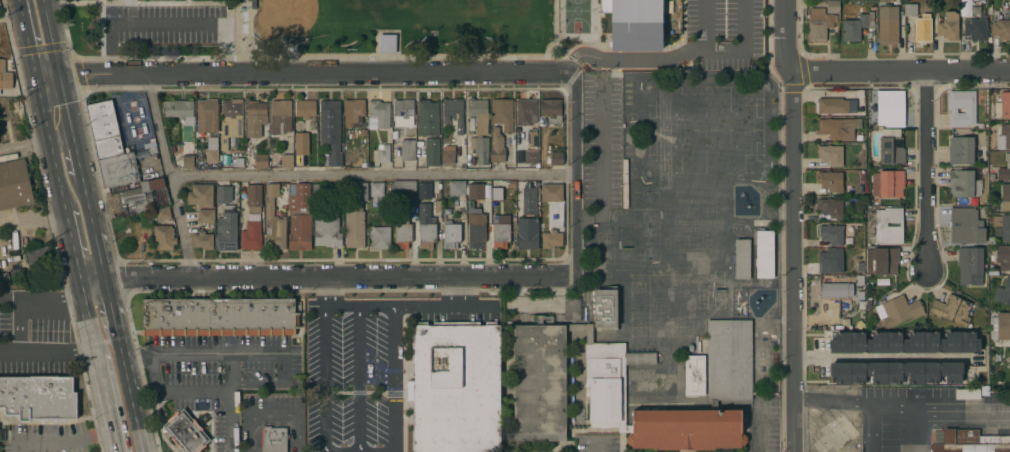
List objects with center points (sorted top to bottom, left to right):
building: (890, 1)
building: (832, 7)
building: (1008, 9)
building: (910, 10)
building: (989, 11)
building: (996, 13)
building: (635, 23)
road: (167, 24)
building: (819, 24)
building: (888, 25)
road: (705, 26)
building: (857, 26)
building: (948, 26)
parking lot: (167, 27)
road: (743, 27)
building: (922, 28)
building: (974, 29)
building: (1001, 29)
park: (433, 33)
road: (27, 37)
building: (292, 41)
building: (387, 43)
road: (670, 61)
road: (305, 74)
road: (902, 75)
building: (5, 76)
building: (832, 106)
building: (1002, 106)
building: (16, 108)
building: (890, 108)
building: (961, 108)
building: (305, 109)
building: (402, 110)
building: (551, 110)
building: (180, 111)
building: (353, 111)
building: (526, 112)
building: (453, 113)
building: (502, 113)
building: (378, 114)
building: (207, 115)
building: (479, 115)
building: (280, 116)
road: (67, 117)
building: (255, 118)
building: (427, 118)
building: (230, 124)
building: (313, 124)
building: (103, 129)
building: (331, 129)
building: (836, 129)
building: (517, 132)
building: (1005, 134)
building: (512, 139)
building: (532, 139)
road: (49, 143)
building: (273, 143)
building: (301, 143)
building: (149, 145)
building: (890, 148)
building: (211, 149)
building: (448, 149)
building: (501, 149)
building: (127, 150)
building: (345, 150)
building: (408, 150)
building: (480, 150)
building: (962, 150)
building: (153, 152)
building: (432, 152)
building: (383, 153)
building: (187, 154)
building: (830, 155)
building: (531, 156)
building: (345, 158)
building: (555, 158)
road: (599, 159)
building: (261, 161)
building: (287, 161)
building: (232, 162)
building: (856, 163)
building: (363, 164)
road: (68, 167)
building: (1004, 169)
building: (118, 170)
road: (925, 173)
road: (168, 174)
road: (372, 175)
road: (576, 175)
building: (859, 179)
building: (830, 181)
building: (963, 183)
building: (511, 184)
building: (888, 184)
building: (14, 185)
building: (404, 185)
building: (424, 186)
building: (466, 189)
building: (859, 190)
building: (496, 193)
building: (552, 193)
building: (223, 194)
building: (378, 194)
building: (302, 195)
building: (200, 196)
building: (136, 197)
building: (1005, 197)
building: (436, 201)
building: (509, 201)
building: (529, 202)
building: (412, 205)
building: (831, 208)
building: (162, 214)
building: (206, 216)
building: (252, 219)
building: (356, 219)
building: (274, 221)
road: (33, 225)
road: (794, 225)
building: (1001, 225)
building: (426, 226)
building: (888, 226)
building: (966, 226)
building: (475, 227)
building: (226, 230)
building: (300, 230)
building: (500, 232)
building: (326, 233)
building: (401, 233)
building: (451, 234)
building: (527, 234)
building: (831, 234)
building: (164, 237)
building: (380, 238)
building: (551, 239)
building: (143, 240)
building: (202, 240)
building: (861, 245)
road: (74, 254)
building: (764, 254)
road: (99, 256)
building: (37, 257)
building: (1003, 257)
building: (742, 259)
building: (883, 260)
building: (830, 262)
building: (970, 266)
building: (859, 267)
road: (326, 275)
building: (857, 280)
road: (323, 290)
building: (836, 290)
building: (1003, 292)
building: (860, 295)
road: (42, 297)
building: (869, 302)
road: (110, 304)
road: (357, 305)
road: (440, 305)
building: (861, 305)
building: (605, 308)
building: (951, 310)
building: (898, 311)
building: (156, 318)
building: (178, 318)
building: (190, 318)
building: (202, 318)
building: (214, 318)
building: (227, 318)
building: (239, 318)
building: (251, 318)
building: (263, 318)
building: (276, 318)
building: (289, 318)
building: (845, 322)
road: (19, 326)
road: (91, 326)
building: (1003, 326)
building: (904, 343)
road: (392, 347)
road: (48, 355)
road: (217, 355)
road: (138, 358)
building: (728, 359)
building: (1009, 359)
road: (886, 360)
road: (283, 369)
building: (895, 372)
building: (694, 375)
road: (323, 378)
road: (359, 378)
building: (605, 380)
building: (539, 383)
road: (257, 385)
building: (455, 387)
road: (131, 390)
road: (177, 391)
building: (966, 394)
building: (885, 396)
building: (38, 399)
road: (853, 401)
road: (230, 403)
road: (108, 404)
road: (910, 413)
road: (271, 416)
road: (390, 421)
building: (185, 432)
building: (273, 439)
building: (970, 442)
road: (67, 444)
road: (17, 449)

